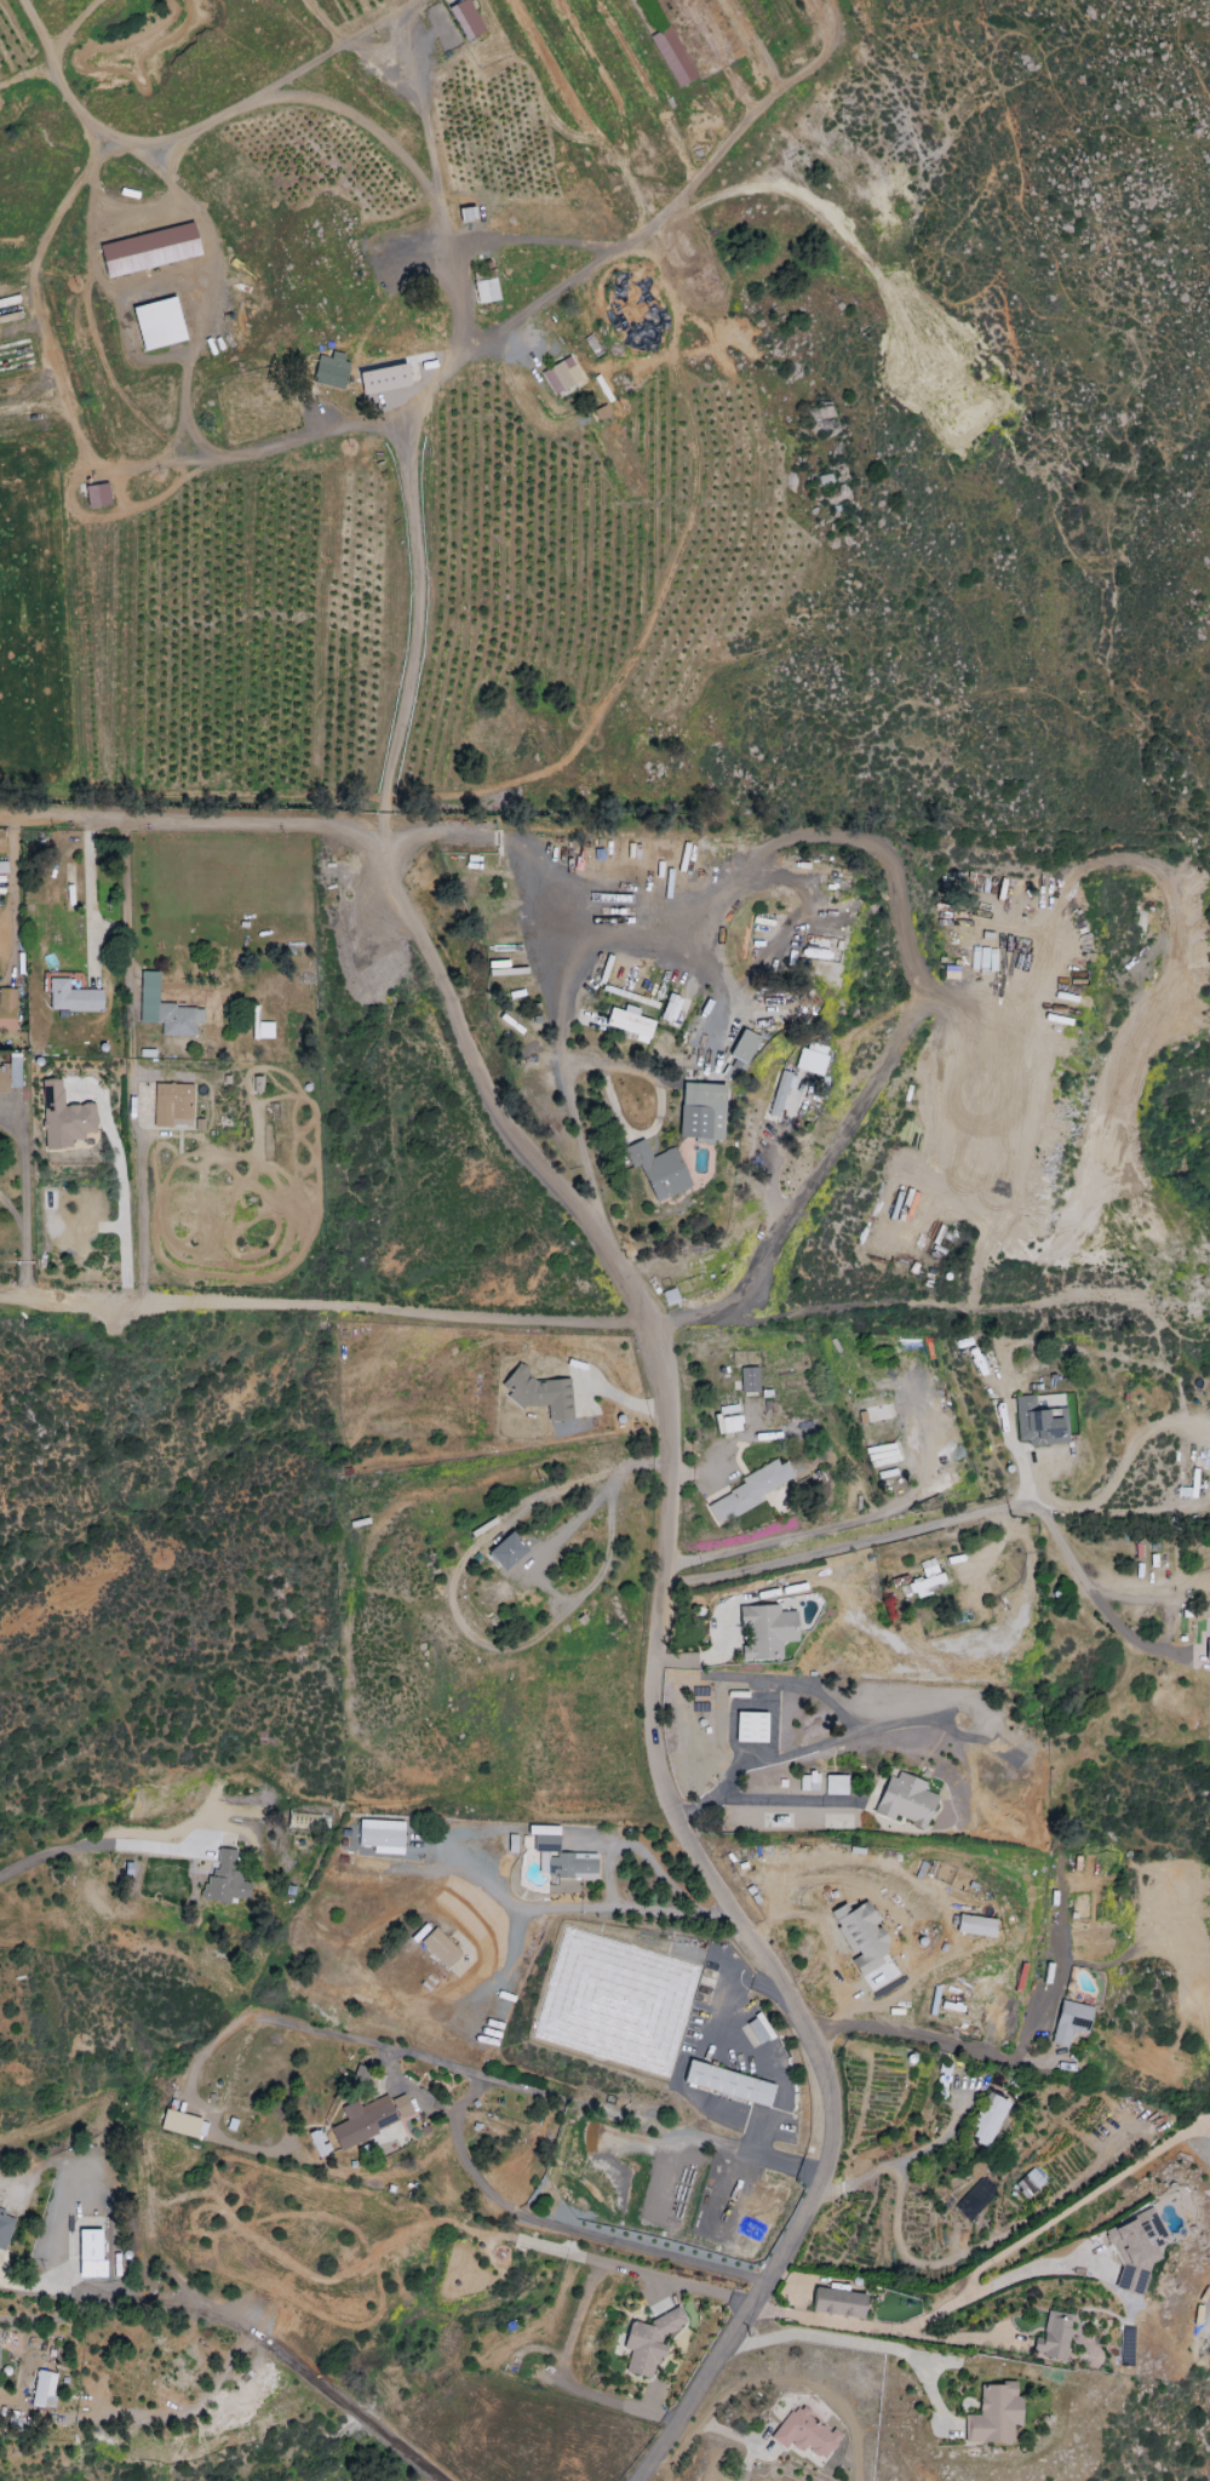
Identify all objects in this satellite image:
road: (389, 17)
building: (465, 19)
road: (78, 30)
building: (672, 57)
road: (27, 71)
road: (579, 115)
road: (371, 126)
road: (165, 150)
road: (673, 200)
road: (138, 213)
building: (149, 250)
road: (93, 269)
building: (486, 291)
road: (539, 302)
building: (159, 322)
road: (51, 369)
building: (331, 369)
building: (561, 376)
building: (386, 378)
road: (429, 384)
road: (184, 396)
road: (201, 823)
road: (517, 853)
building: (841, 872)
road: (88, 899)
road: (122, 907)
building: (763, 926)
road: (911, 959)
building: (71, 997)
building: (670, 1008)
building: (165, 1009)
building: (7, 1010)
building: (629, 1021)
building: (744, 1045)
building: (735, 1066)
building: (10, 1075)
building: (779, 1094)
building: (172, 1105)
building: (701, 1111)
building: (63, 1117)
building: (659, 1170)
road: (23, 1196)
road: (121, 1196)
road: (625, 1285)
road: (872, 1302)
road: (322, 1306)
road: (1032, 1340)
building: (749, 1380)
building: (539, 1393)
building: (1209, 1413)
building: (727, 1420)
building: (1037, 1423)
road: (724, 1450)
road: (1120, 1461)
building: (753, 1489)
road: (1152, 1508)
road: (847, 1523)
road: (837, 1545)
building: (506, 1551)
building: (928, 1568)
road: (1080, 1576)
building: (927, 1586)
road: (1152, 1599)
building: (765, 1632)
road: (816, 1692)
building: (751, 1727)
road: (801, 1749)
building: (808, 1782)
building: (836, 1786)
road: (786, 1799)
building: (906, 1800)
building: (543, 1830)
building: (382, 1837)
road: (82, 1849)
road: (637, 1849)
building: (563, 1861)
building: (224, 1880)
road: (503, 1895)
road: (655, 1908)
building: (975, 1925)
building: (860, 1935)
building: (440, 1948)
road: (501, 1965)
road: (735, 1992)
road: (257, 2016)
building: (1071, 2021)
building: (756, 2030)
road: (927, 2035)
road: (438, 2061)
building: (728, 2082)
road: (431, 2102)
building: (369, 2118)
building: (987, 2118)
building: (179, 2122)
building: (317, 2142)
road: (746, 2154)
road: (826, 2154)
road: (461, 2156)
road: (893, 2160)
building: (1031, 2182)
road: (507, 2206)
building: (5, 2229)
building: (1135, 2248)
road: (646, 2251)
building: (90, 2253)
road: (103, 2297)
building: (838, 2303)
road: (912, 2325)
building: (1054, 2336)
road: (962, 2339)
building: (649, 2340)
road: (847, 2342)
road: (315, 2382)
building: (42, 2389)
building: (994, 2414)
building: (805, 2433)
road: (746, 2460)

